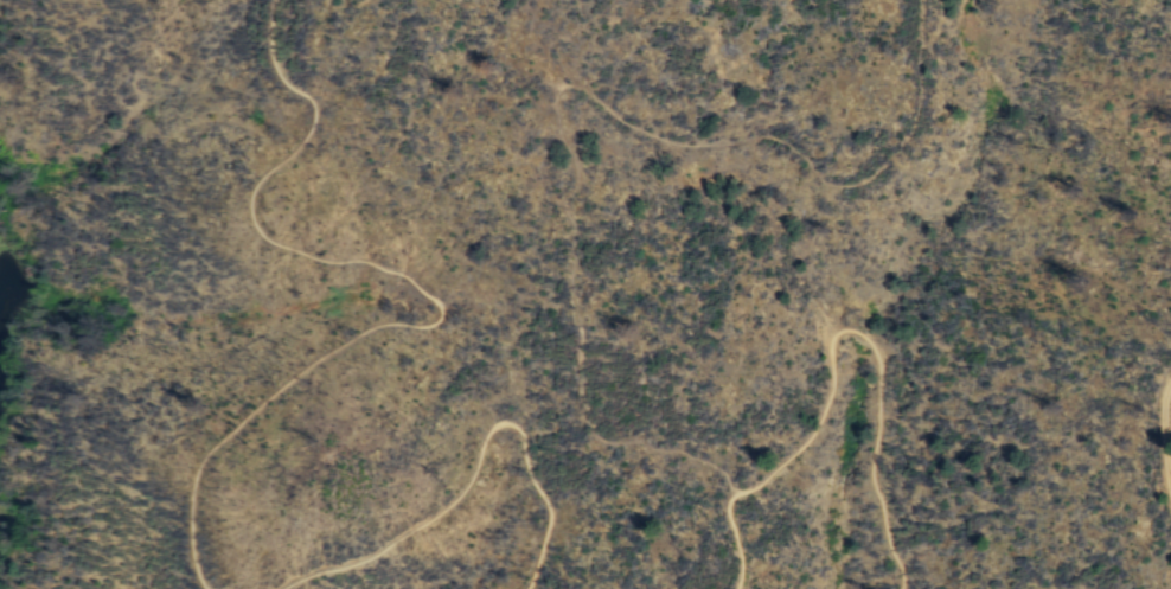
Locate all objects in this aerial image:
road: (567, 87)
road: (430, 293)
road: (833, 333)
road: (1163, 438)
road: (473, 463)

